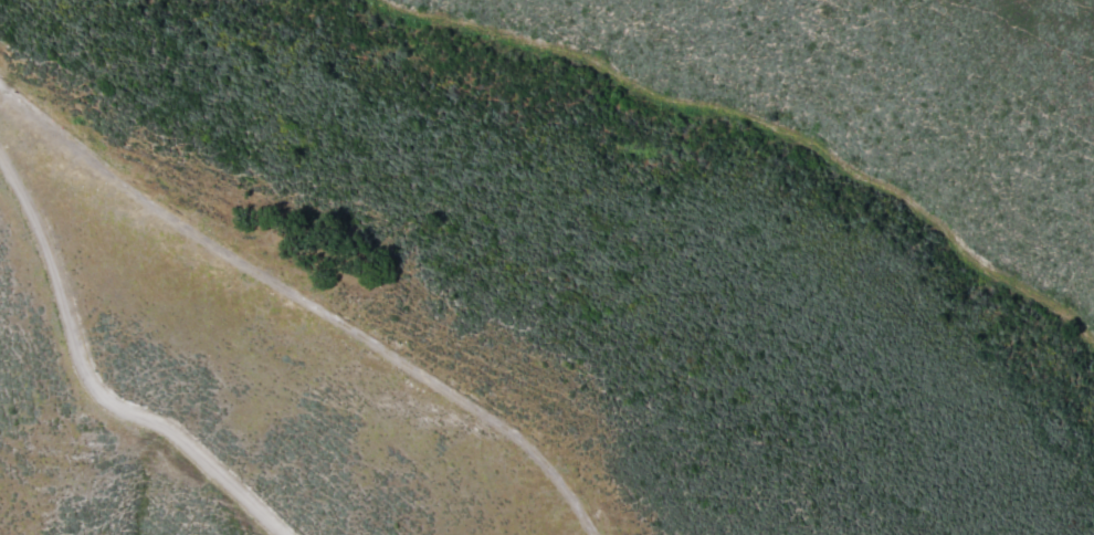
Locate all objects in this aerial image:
road: (77, 380)

